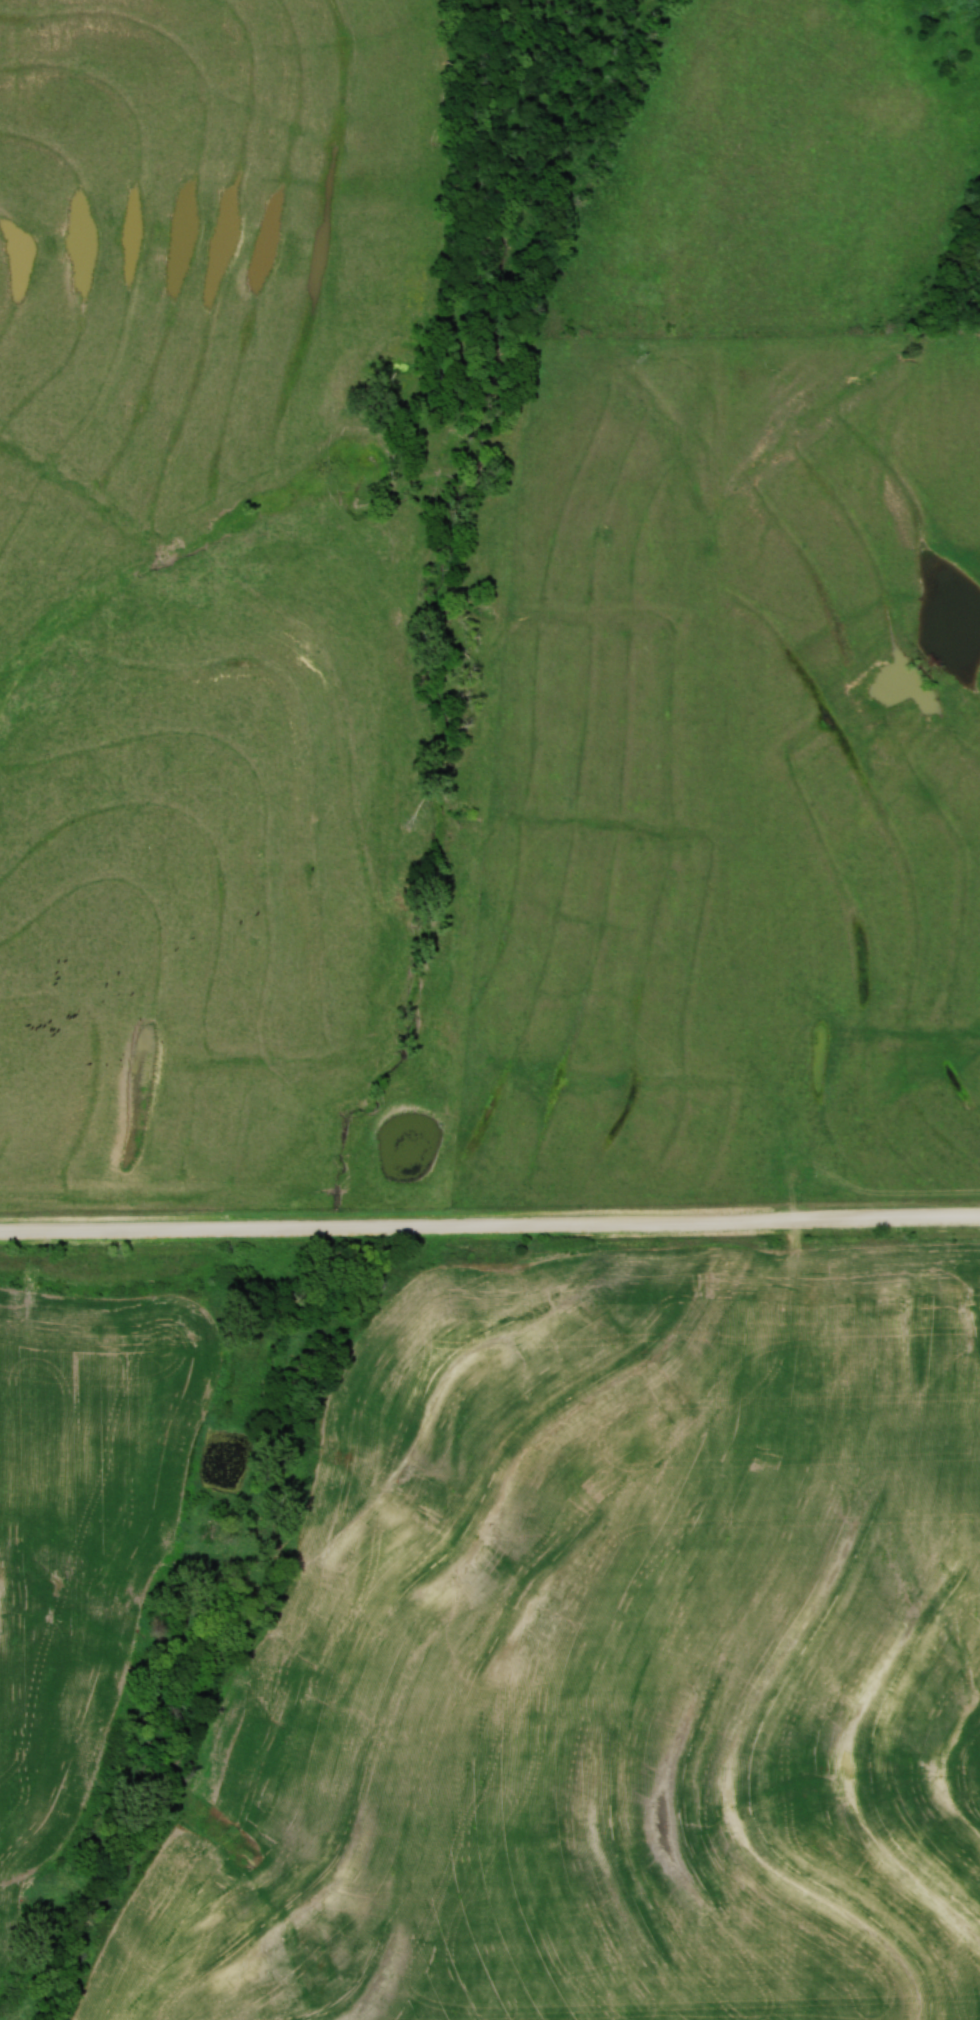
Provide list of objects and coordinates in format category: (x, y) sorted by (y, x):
road: (490, 1230)

